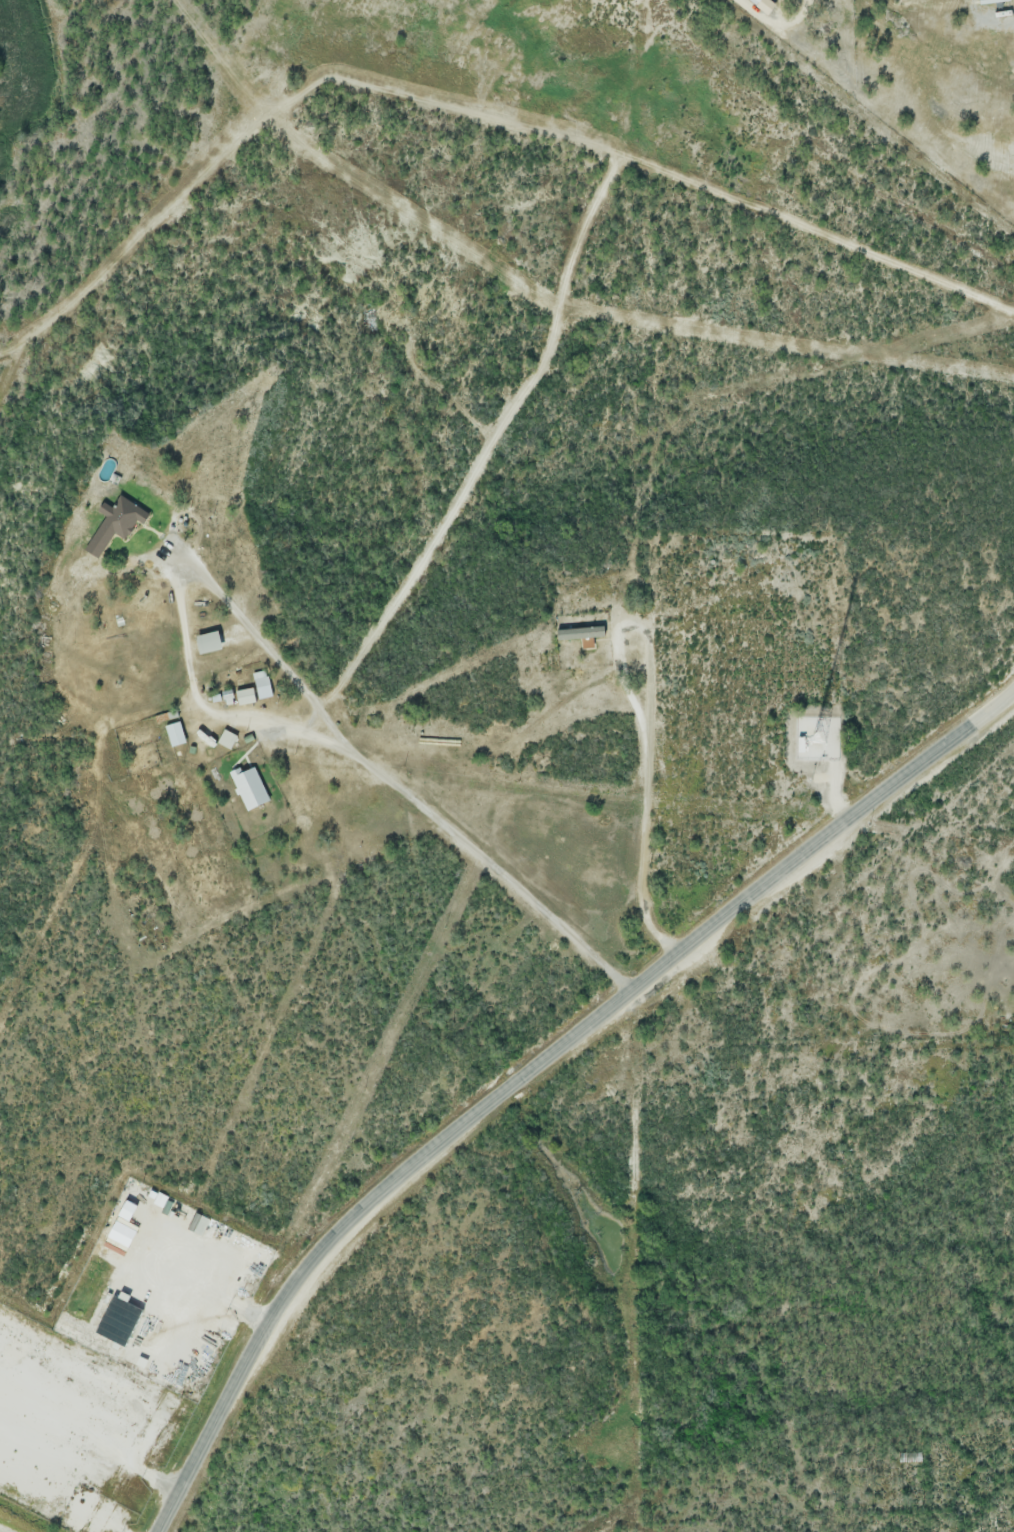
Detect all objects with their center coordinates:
building: (994, 1)
building: (763, 2)
road: (757, 12)
building: (116, 520)
building: (580, 633)
building: (208, 641)
building: (262, 684)
building: (245, 695)
building: (175, 732)
building: (228, 737)
road: (387, 782)
building: (250, 788)
road: (538, 1069)
building: (123, 1224)
building: (118, 1320)

